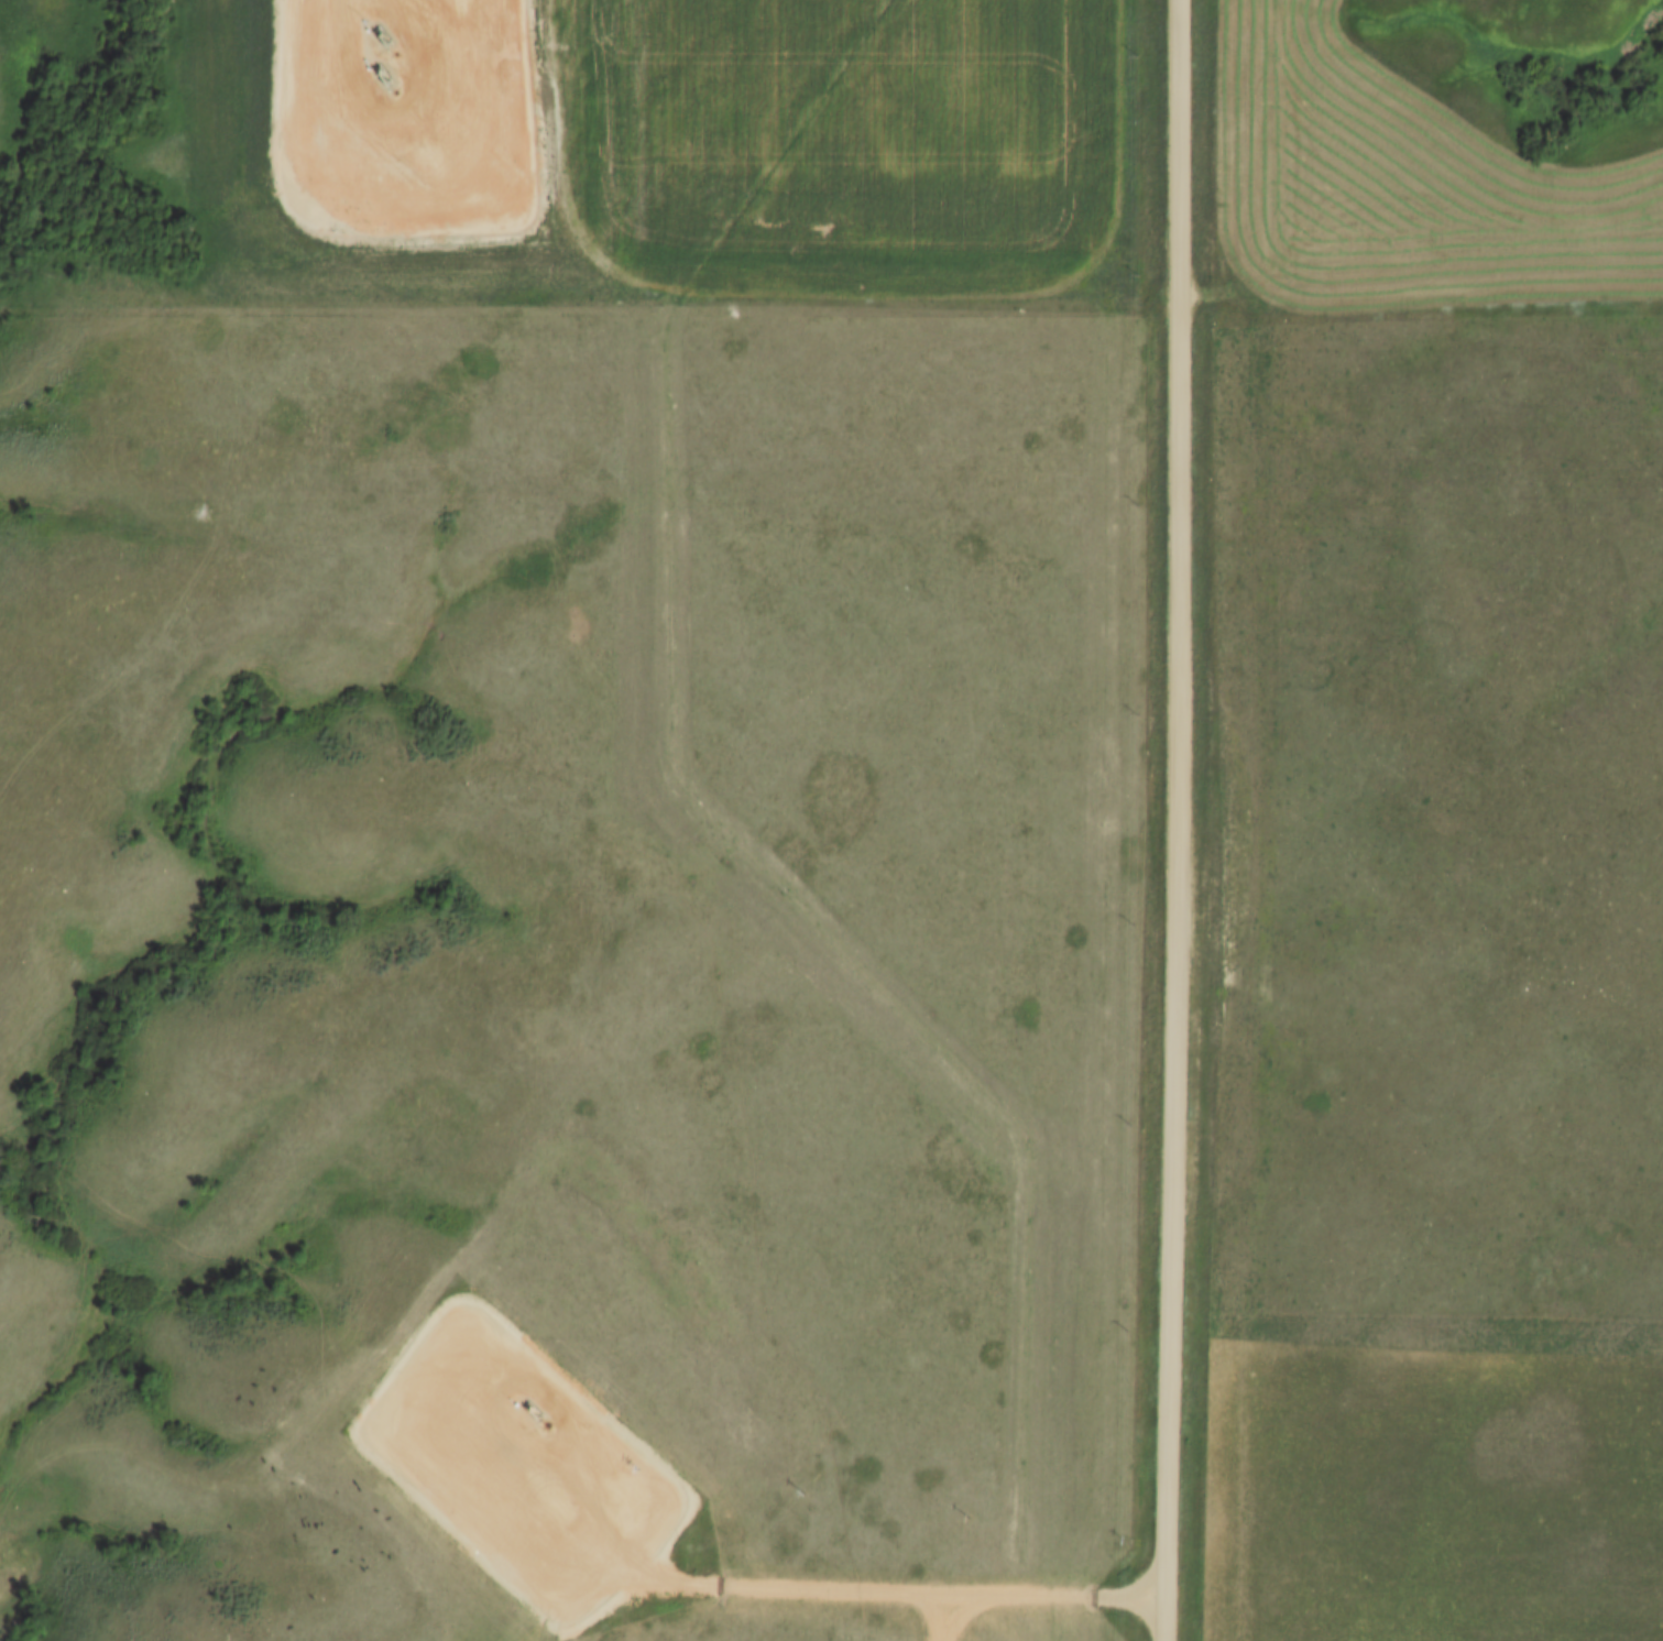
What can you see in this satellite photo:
road: (1182, 820)

